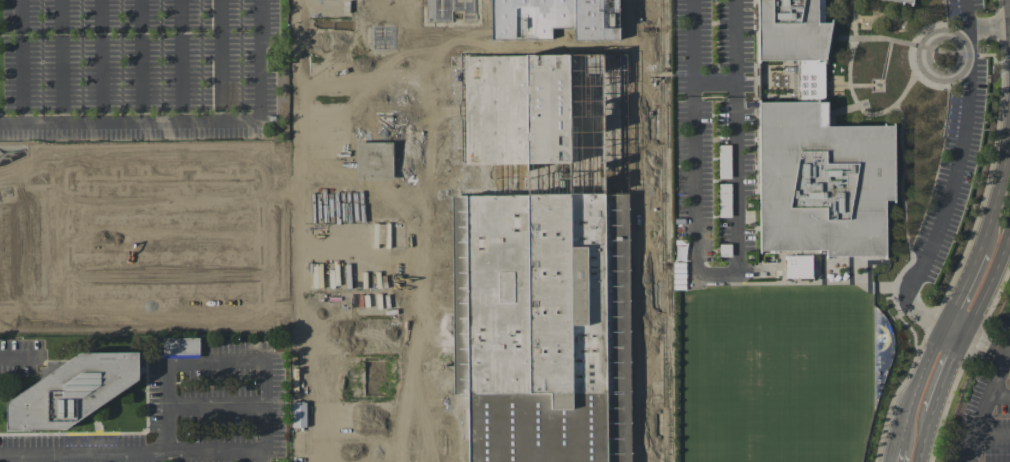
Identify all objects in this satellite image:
building: (454, 1)
building: (906, 1)
railway: (626, 24)
road: (989, 30)
road: (362, 37)
road: (693, 41)
road: (733, 42)
road: (181, 61)
road: (221, 61)
road: (21, 62)
road: (61, 62)
road: (101, 62)
road: (141, 62)
parking lot: (137, 69)
road: (321, 83)
road: (714, 83)
road: (734, 89)
road: (188, 123)
parking lot: (956, 133)
parking lot: (715, 137)
helipad: (202, 144)
building: (58, 151)
building: (817, 152)
building: (28, 156)
building: (60, 161)
road: (296, 163)
building: (381, 164)
road: (955, 175)
road: (998, 191)
building: (40, 196)
road: (429, 230)
road: (640, 230)
railway: (662, 231)
building: (541, 233)
road: (377, 259)
building: (63, 264)
building: (798, 266)
road: (710, 273)
road: (989, 280)
road: (962, 287)
road: (364, 296)
building: (322, 304)
building: (62, 308)
road: (955, 330)
road: (325, 340)
road: (987, 344)
building: (180, 347)
road: (1009, 355)
road: (20, 358)
road: (264, 360)
road: (949, 373)
park: (775, 384)
road: (919, 385)
building: (71, 390)
road: (999, 397)
road: (215, 403)
road: (984, 405)
parking lot: (985, 414)
road: (367, 416)
road: (991, 432)
road: (925, 437)
road: (297, 438)
road: (83, 452)
road: (898, 455)
road: (261, 456)

